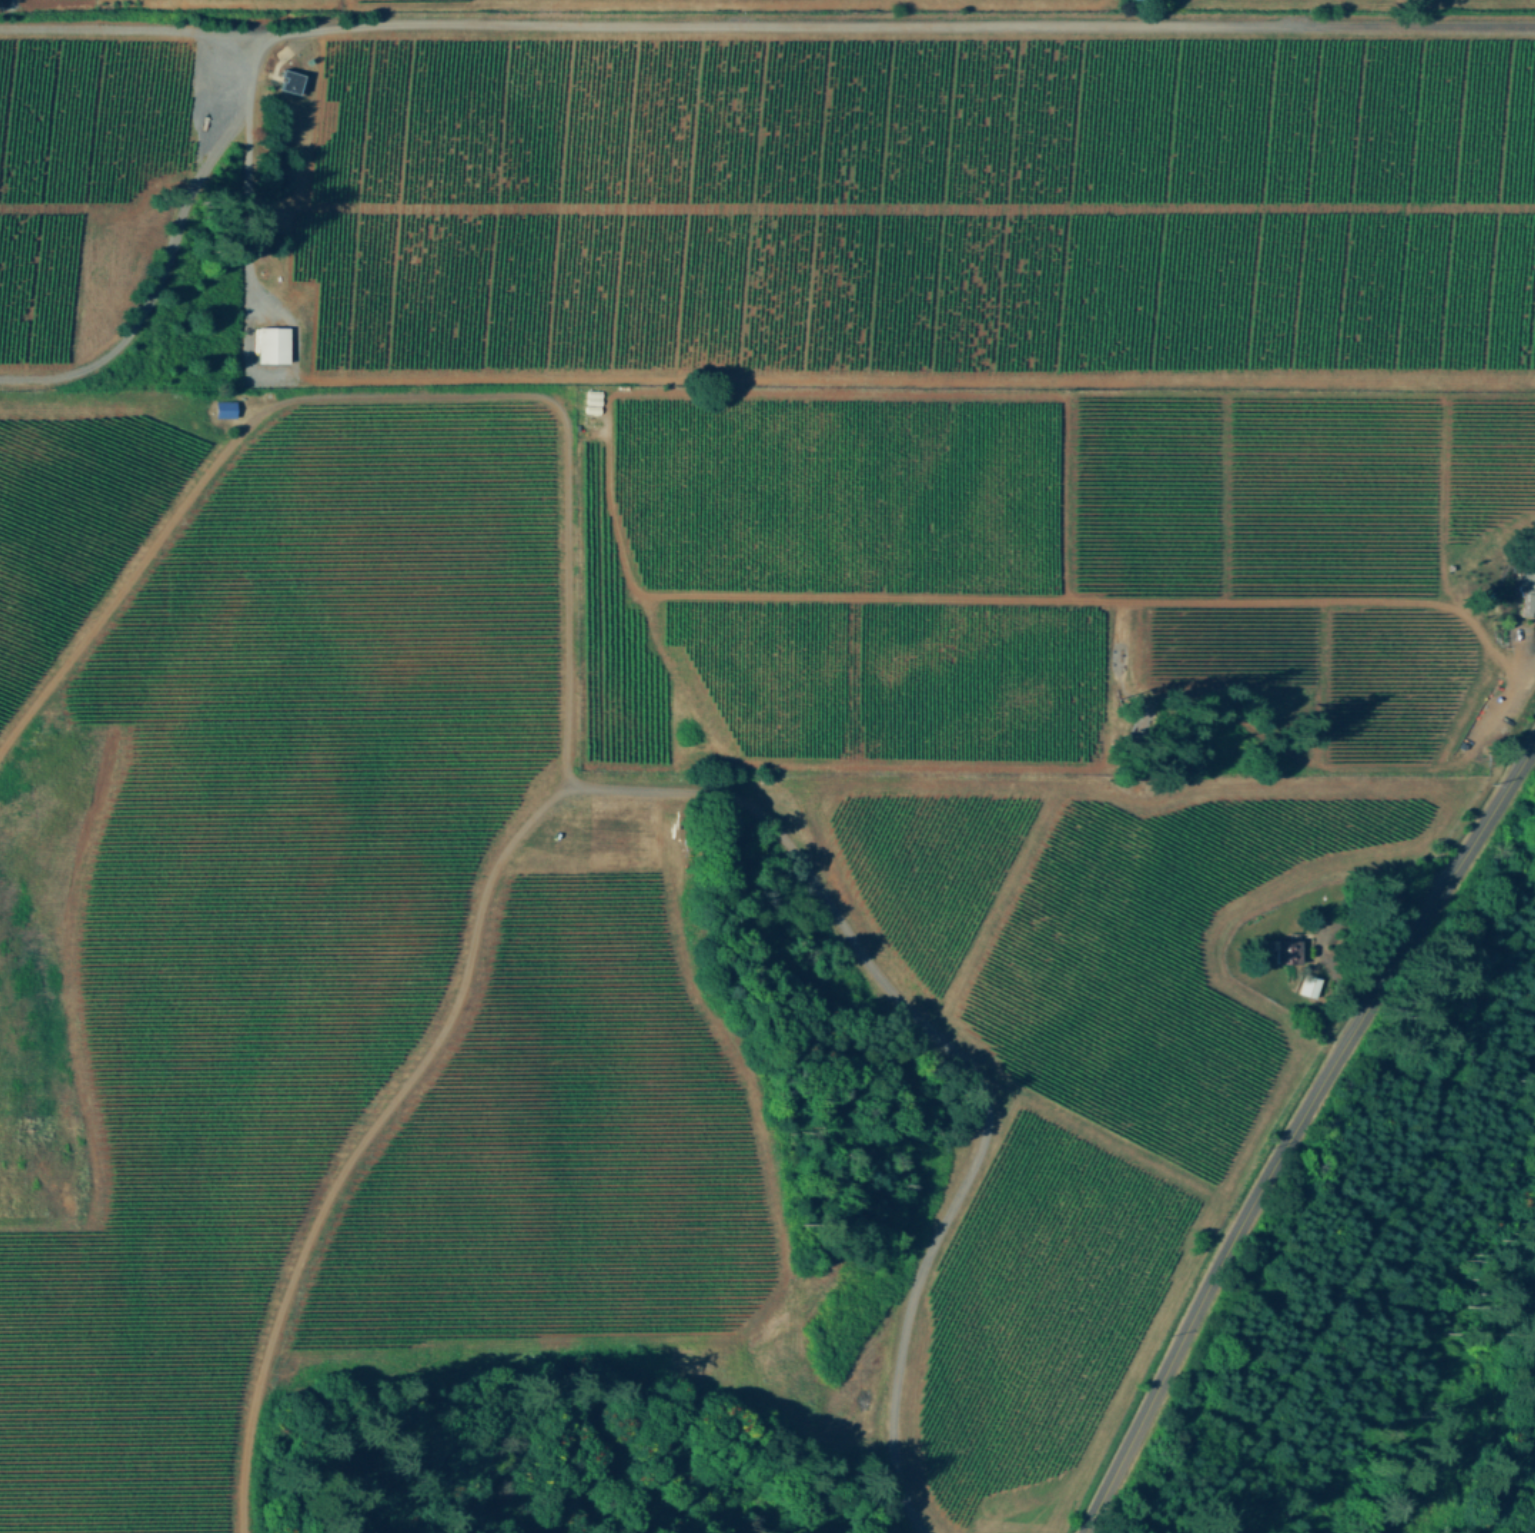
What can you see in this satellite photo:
road: (775, 28)
building: (291, 80)
building: (273, 344)
building: (226, 407)
building: (1528, 593)
road: (747, 795)
road: (1378, 910)
building: (1290, 949)
building: (1311, 984)
crop: (645, 999)
road: (1295, 1126)

